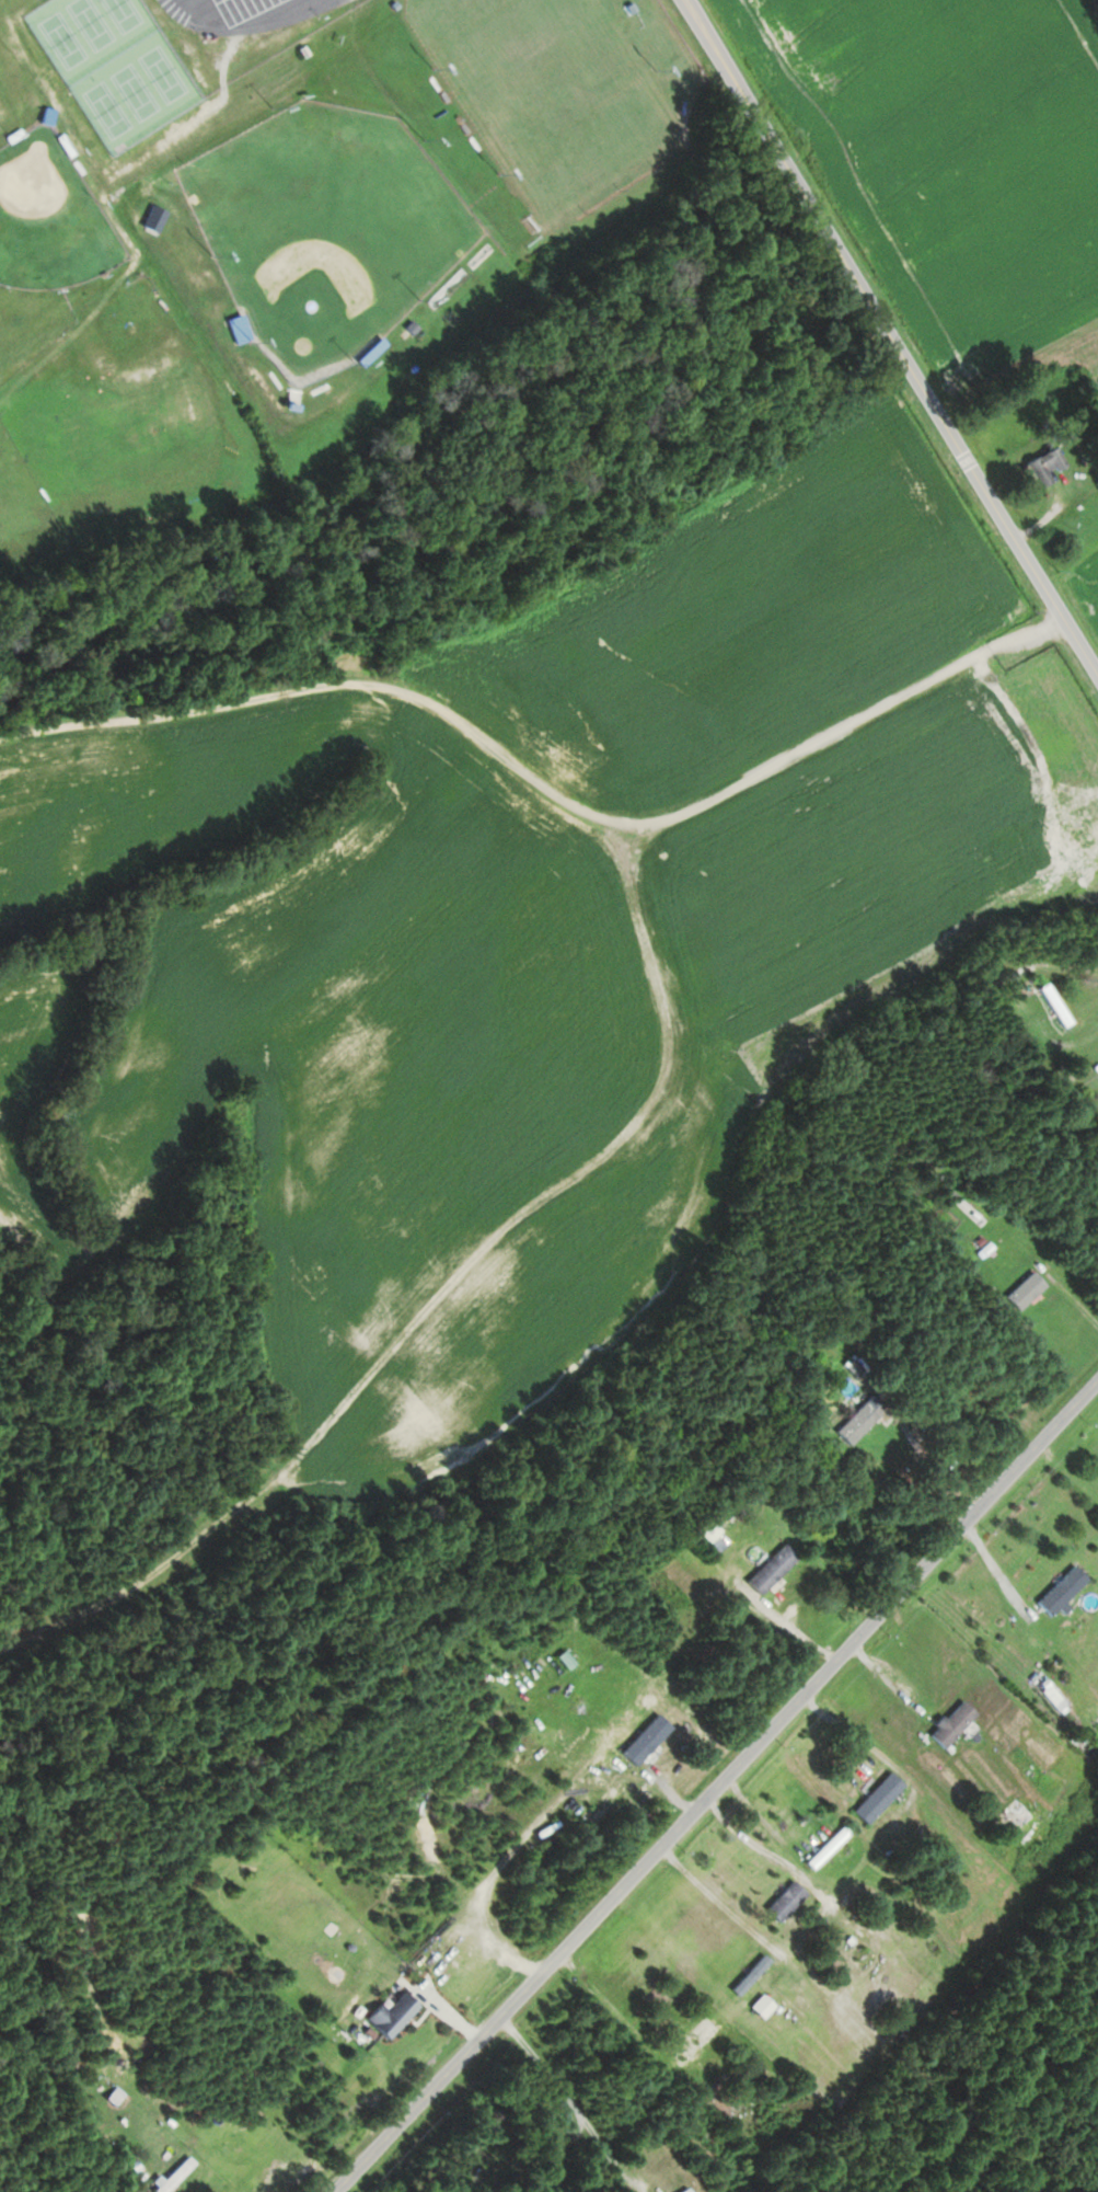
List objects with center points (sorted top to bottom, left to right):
road: (250, 24)
building: (154, 218)
building: (240, 328)
road: (893, 335)
building: (1043, 464)
building: (1055, 1005)
building: (1026, 1290)
building: (859, 1420)
building: (772, 1568)
building: (1062, 1588)
building: (951, 1722)
road: (719, 1790)
building: (878, 1797)
building: (828, 1846)
building: (785, 1900)
building: (750, 1973)
building: (762, 2005)
building: (390, 2015)
building: (694, 2039)

